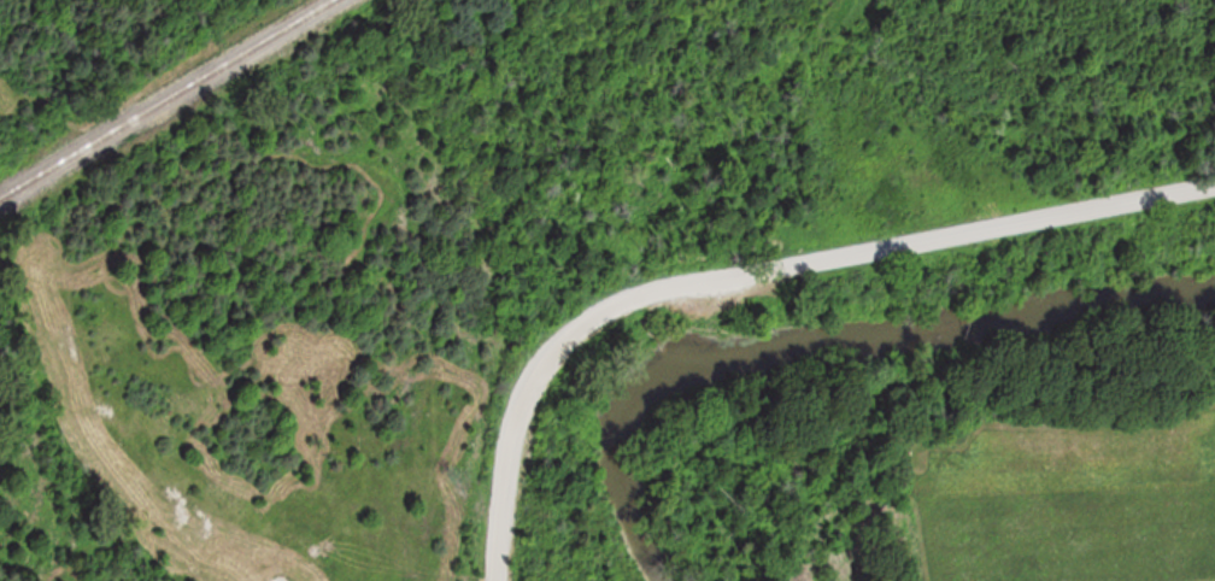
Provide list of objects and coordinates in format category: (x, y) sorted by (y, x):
railway: (165, 98)
road: (756, 270)

